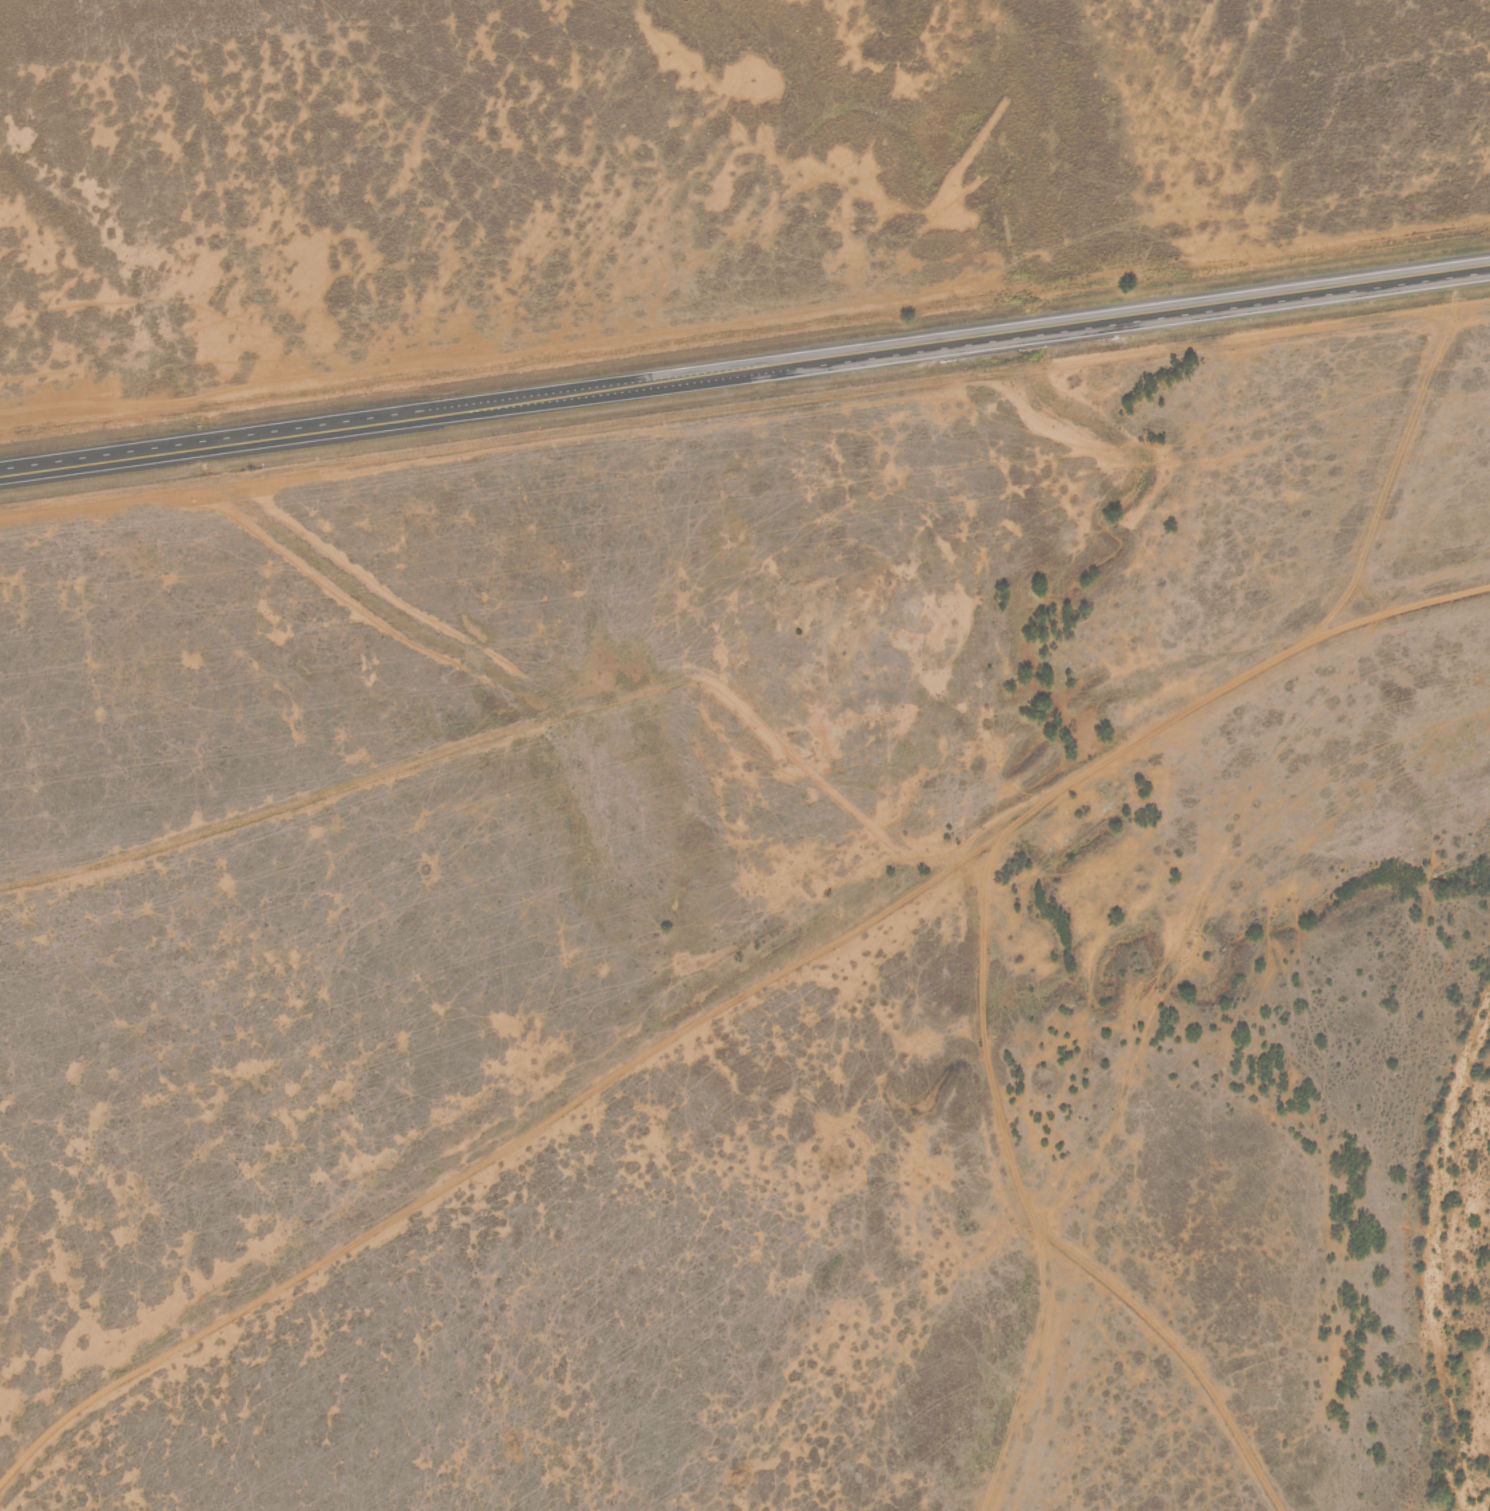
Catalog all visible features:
road: (745, 328)
road: (744, 363)
road: (1402, 428)
road: (732, 995)
road: (1038, 1223)
river: (1439, 1254)

